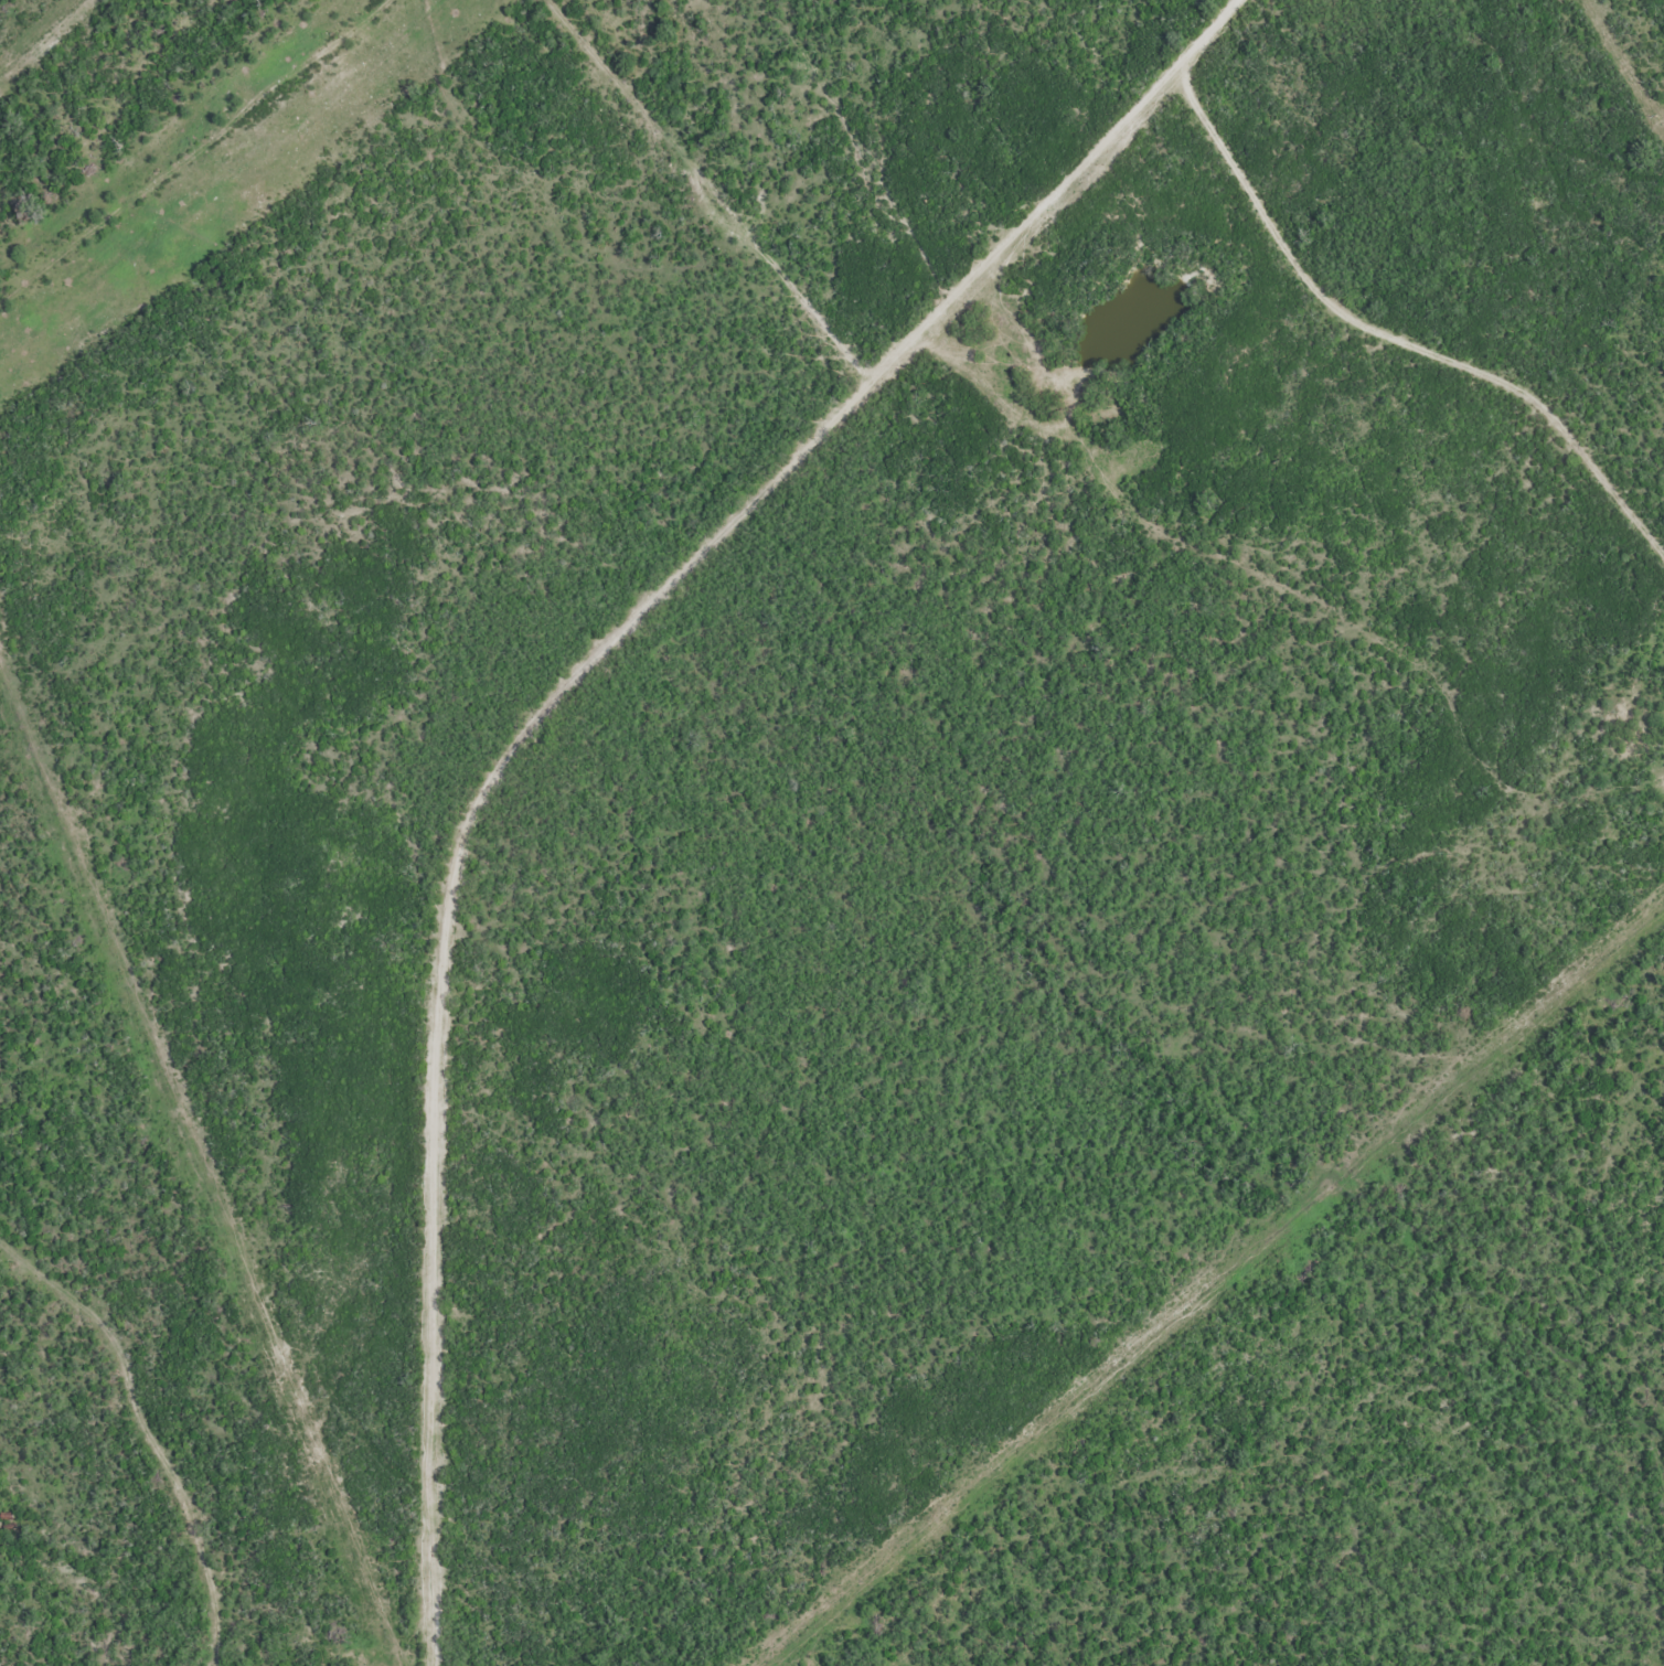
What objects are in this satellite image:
road: (163, 89)
road: (126, 1443)

